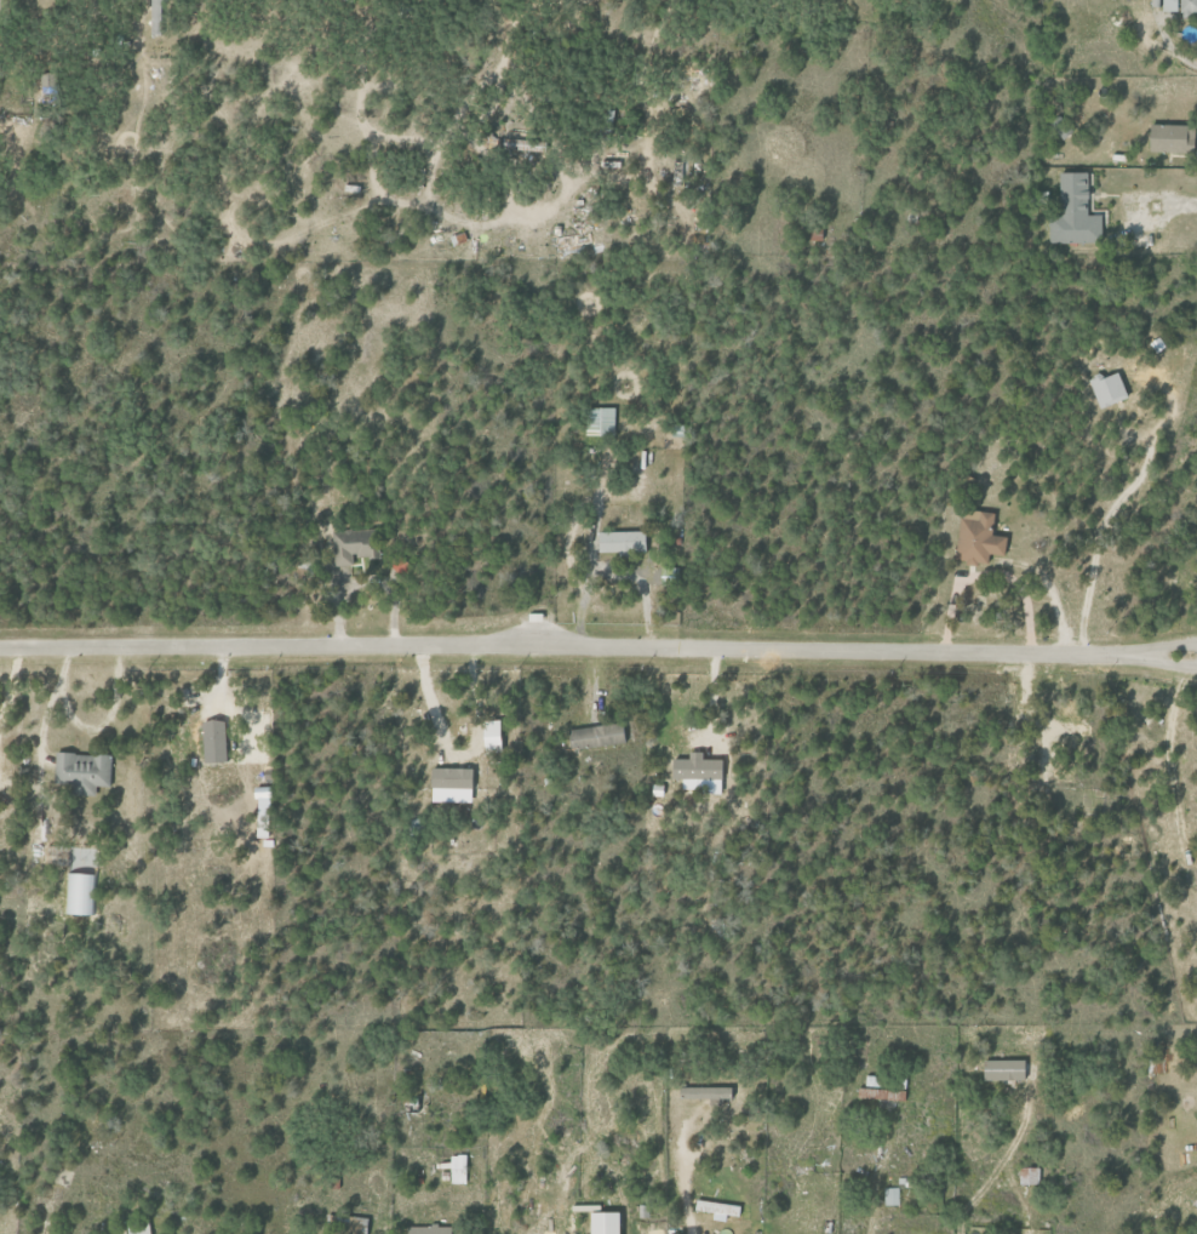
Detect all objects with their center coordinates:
building: (1187, 6)
building: (157, 17)
road: (1157, 46)
building: (1169, 138)
road: (1181, 198)
building: (1073, 212)
building: (1157, 344)
building: (1106, 389)
building: (601, 418)
building: (976, 538)
building: (620, 541)
building: (355, 545)
road: (1095, 554)
road: (1164, 649)
road: (566, 651)
road: (1164, 661)
road: (44, 716)
road: (92, 730)
building: (489, 736)
building: (595, 736)
building: (212, 741)
building: (81, 771)
building: (449, 778)
building: (1002, 1069)
building: (871, 1080)
building: (704, 1092)
building: (881, 1093)
building: (454, 1167)
building: (1027, 1176)
road: (875, 1186)
building: (890, 1195)
road: (680, 1196)
building: (601, 1222)
building: (138, 1227)
building: (428, 1229)

